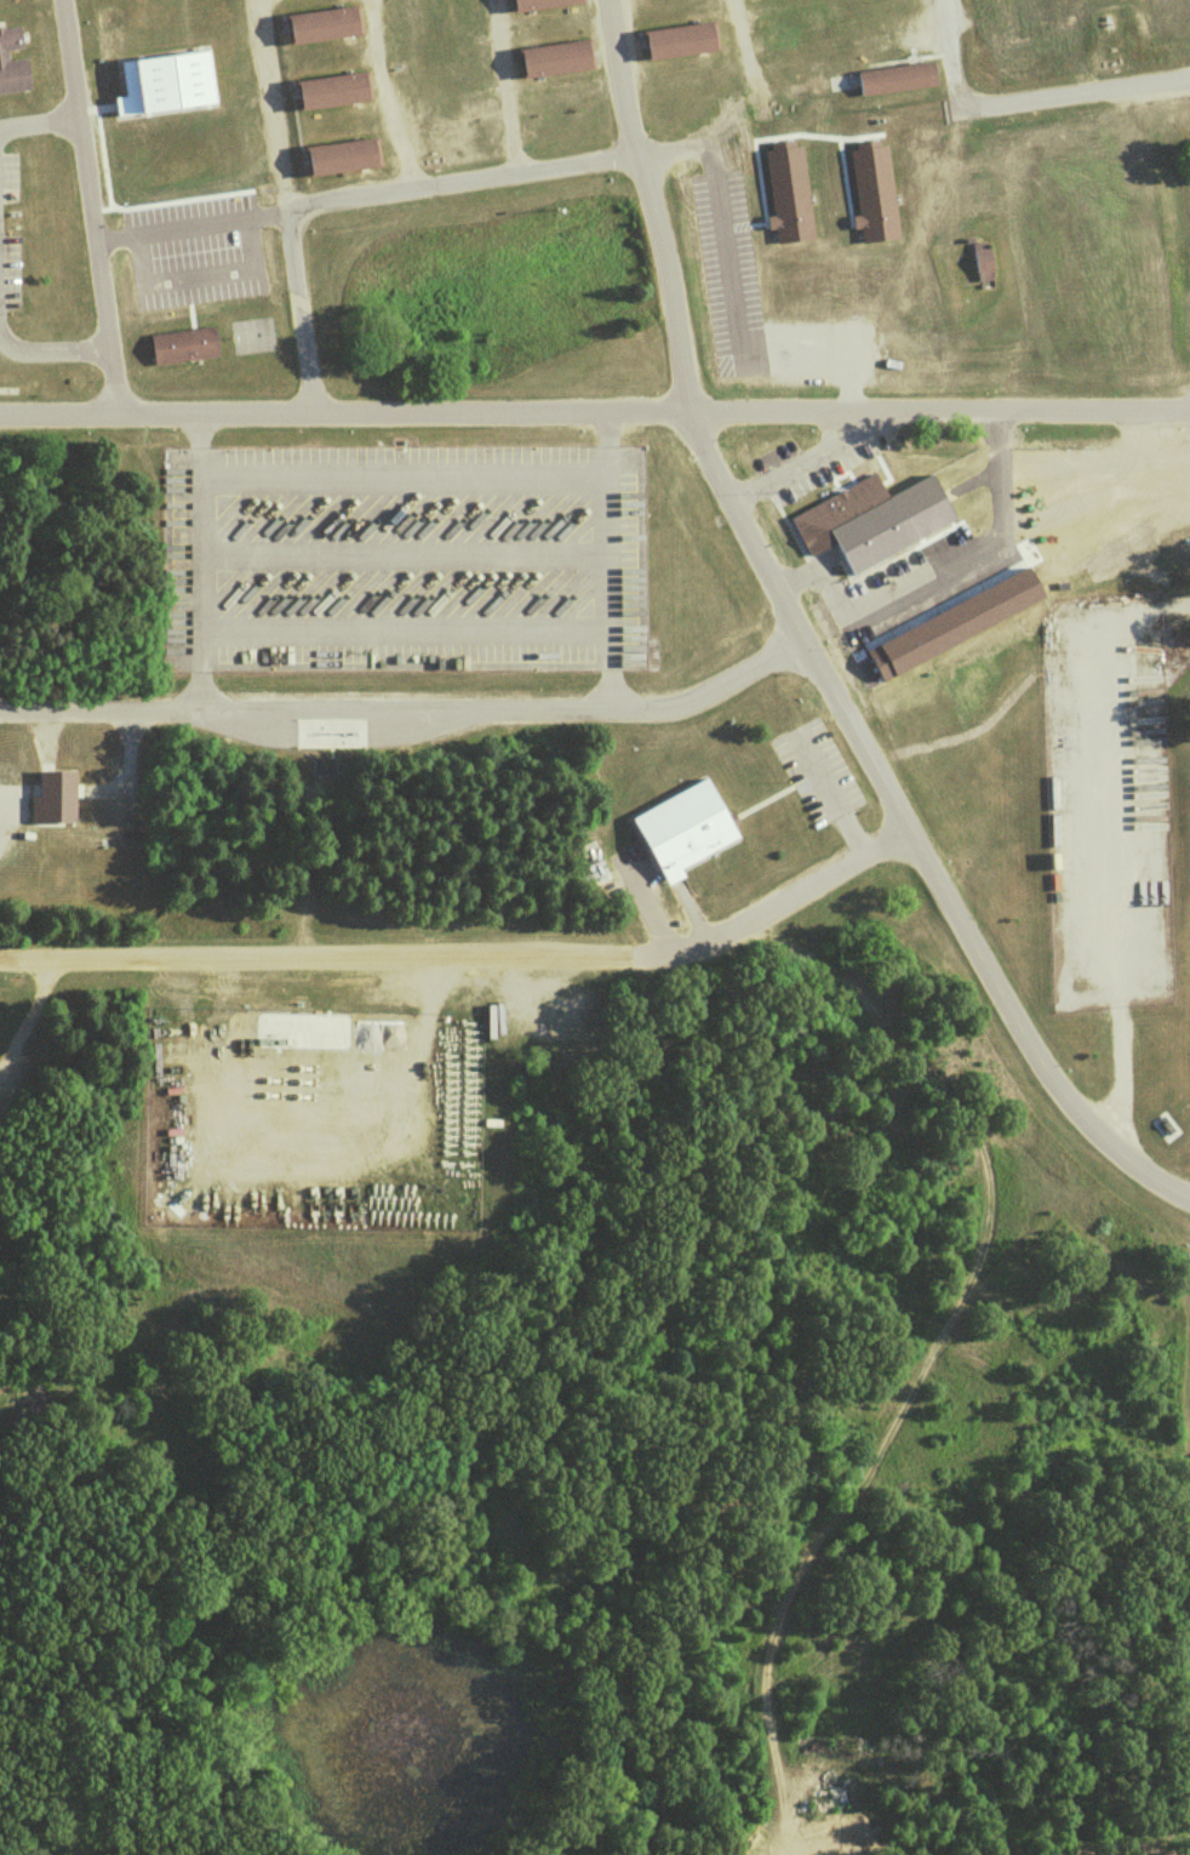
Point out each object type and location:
building: (542, 5)
building: (322, 28)
building: (680, 40)
building: (1156, 41)
road: (946, 56)
building: (556, 59)
building: (1029, 59)
building: (12, 64)
road: (745, 68)
building: (898, 80)
building: (160, 81)
road: (502, 86)
building: (334, 93)
road: (384, 96)
road: (36, 120)
road: (639, 152)
building: (343, 158)
building: (897, 164)
building: (785, 193)
building: (870, 193)
road: (281, 205)
road: (85, 206)
parking lot: (8, 232)
park: (252, 337)
road: (52, 347)
building: (184, 347)
road: (595, 411)
road: (807, 461)
road: (401, 476)
building: (851, 535)
road: (401, 552)
road: (606, 558)
road: (198, 559)
parking lot: (404, 560)
road: (916, 580)
road: (402, 627)
road: (803, 647)
road: (407, 707)
parking lot: (817, 774)
building: (51, 795)
building: (686, 829)
road: (1109, 846)
road: (469, 951)
road: (866, 1010)
road: (27, 1015)
road: (849, 1482)
road: (1106, 1847)

